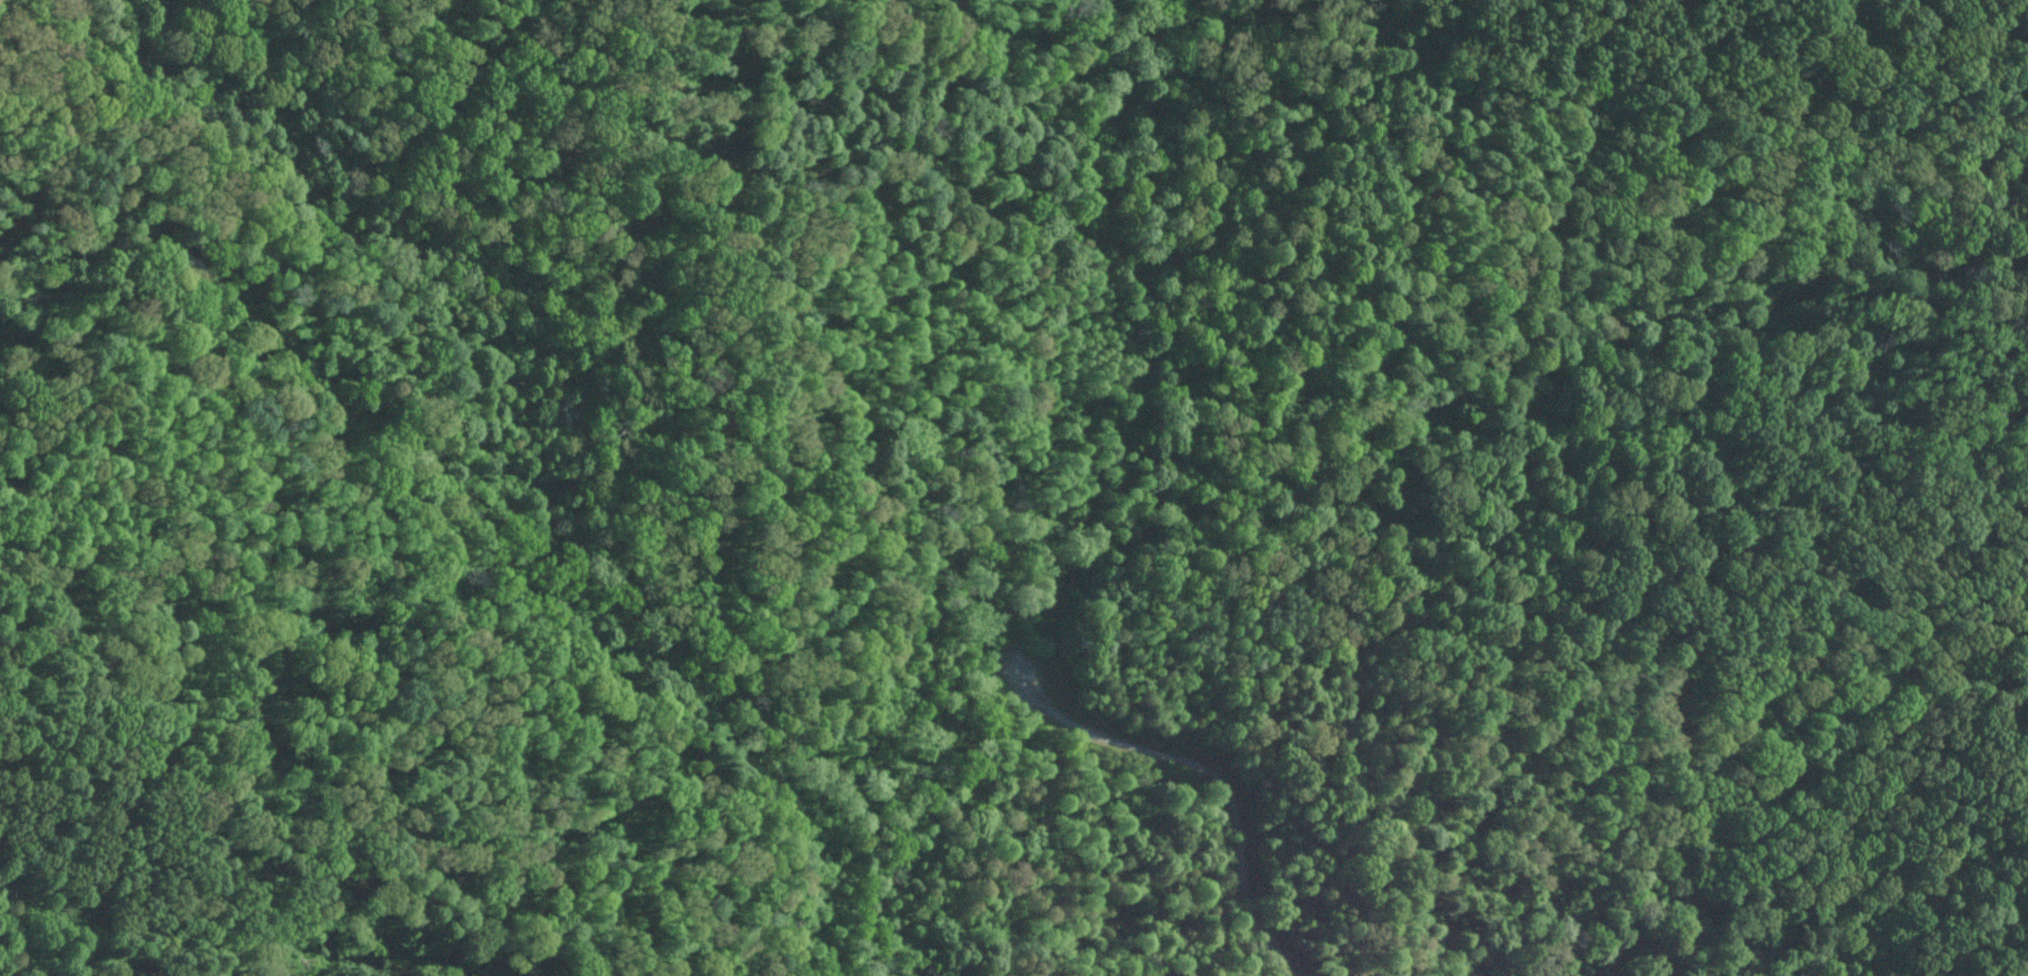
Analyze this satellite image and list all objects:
road: (528, 566)
road: (1217, 765)
road: (83, 963)

